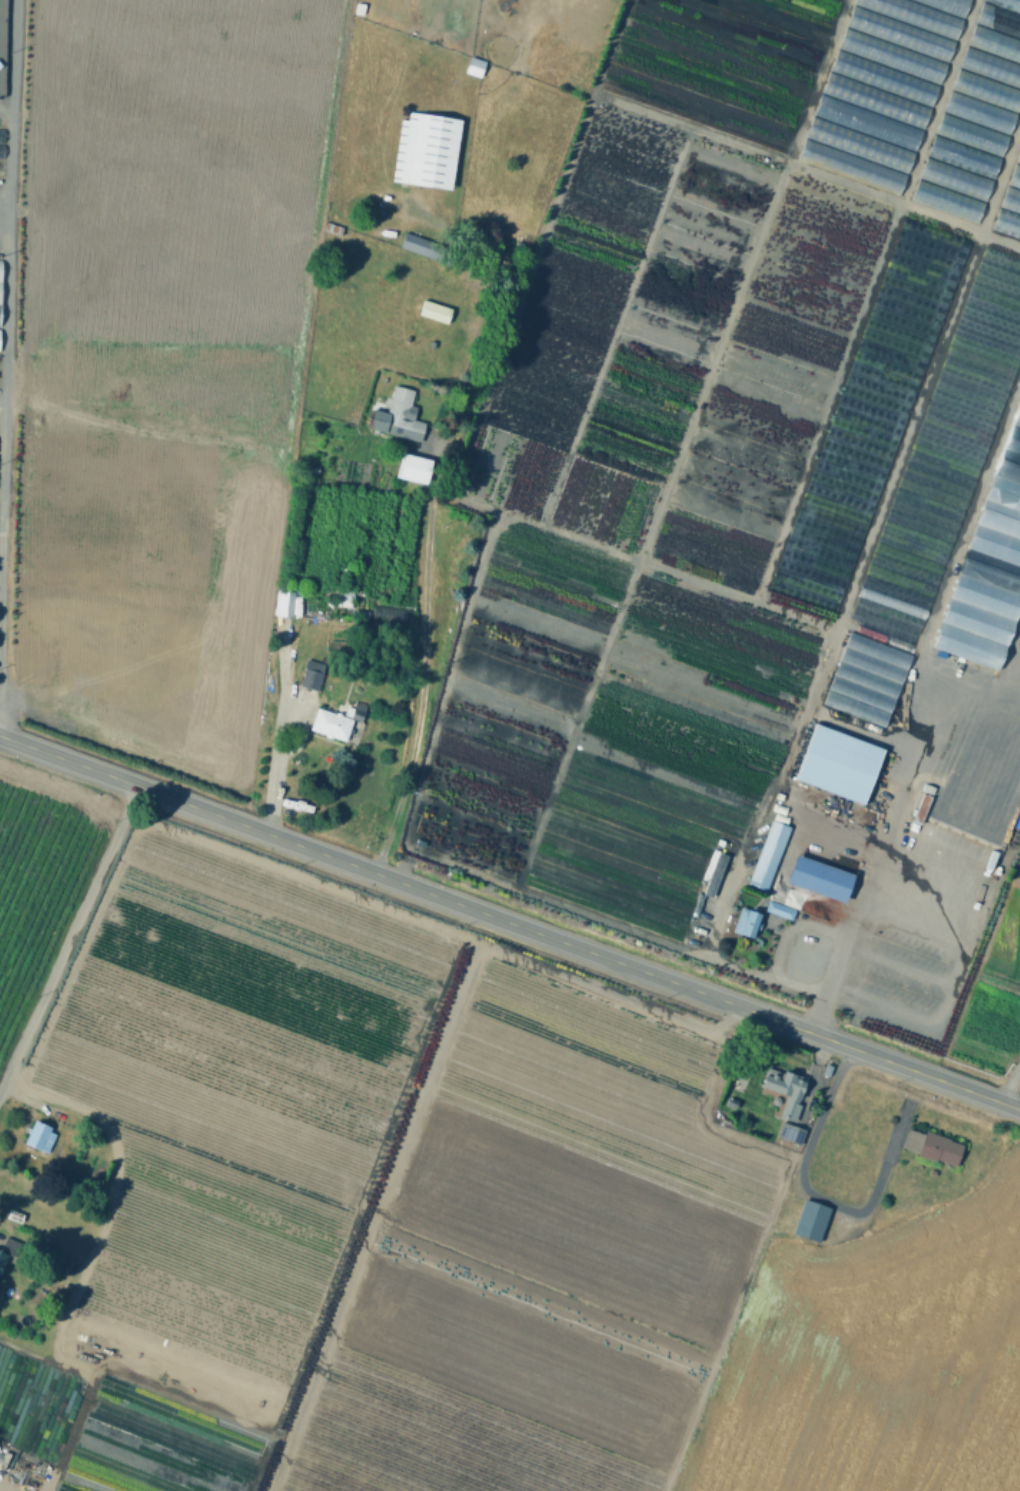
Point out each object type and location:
building: (1006, 4)
building: (946, 6)
building: (913, 16)
building: (999, 21)
building: (899, 34)
building: (995, 44)
building: (891, 57)
building: (991, 67)
building: (475, 68)
building: (883, 80)
building: (986, 91)
building: (875, 102)
road: (7, 109)
building: (979, 114)
building: (867, 123)
building: (971, 136)
building: (2, 138)
building: (858, 146)
building: (402, 152)
building: (436, 152)
building: (2, 153)
building: (963, 158)
building: (1018, 159)
building: (851, 169)
road: (804, 172)
building: (1015, 178)
building: (955, 180)
building: (1011, 201)
building: (948, 203)
building: (1007, 225)
building: (335, 231)
road: (5, 238)
building: (426, 249)
building: (987, 257)
building: (0, 272)
building: (0, 295)
road: (866, 302)
building: (436, 311)
road: (7, 324)
road: (612, 330)
road: (3, 402)
building: (398, 416)
road: (466, 440)
road: (682, 445)
building: (414, 463)
road: (894, 475)
road: (278, 508)
building: (988, 572)
building: (341, 596)
building: (286, 602)
building: (391, 615)
road: (421, 674)
building: (312, 678)
building: (868, 681)
building: (333, 724)
road: (279, 727)
building: (838, 761)
road: (792, 804)
building: (924, 806)
road: (887, 831)
building: (768, 855)
building: (718, 858)
road: (451, 867)
building: (821, 879)
building: (782, 910)
road: (510, 920)
building: (748, 923)
road: (787, 927)
road: (70, 935)
road: (1010, 1081)
building: (785, 1089)
building: (791, 1134)
building: (40, 1136)
building: (914, 1139)
building: (937, 1150)
road: (818, 1197)
road: (380, 1202)
building: (17, 1215)
building: (812, 1220)
building: (7, 1245)
building: (2, 1258)
road: (84, 1273)
crop: (872, 1354)
building: (1, 1454)
crop: (987, 1469)

